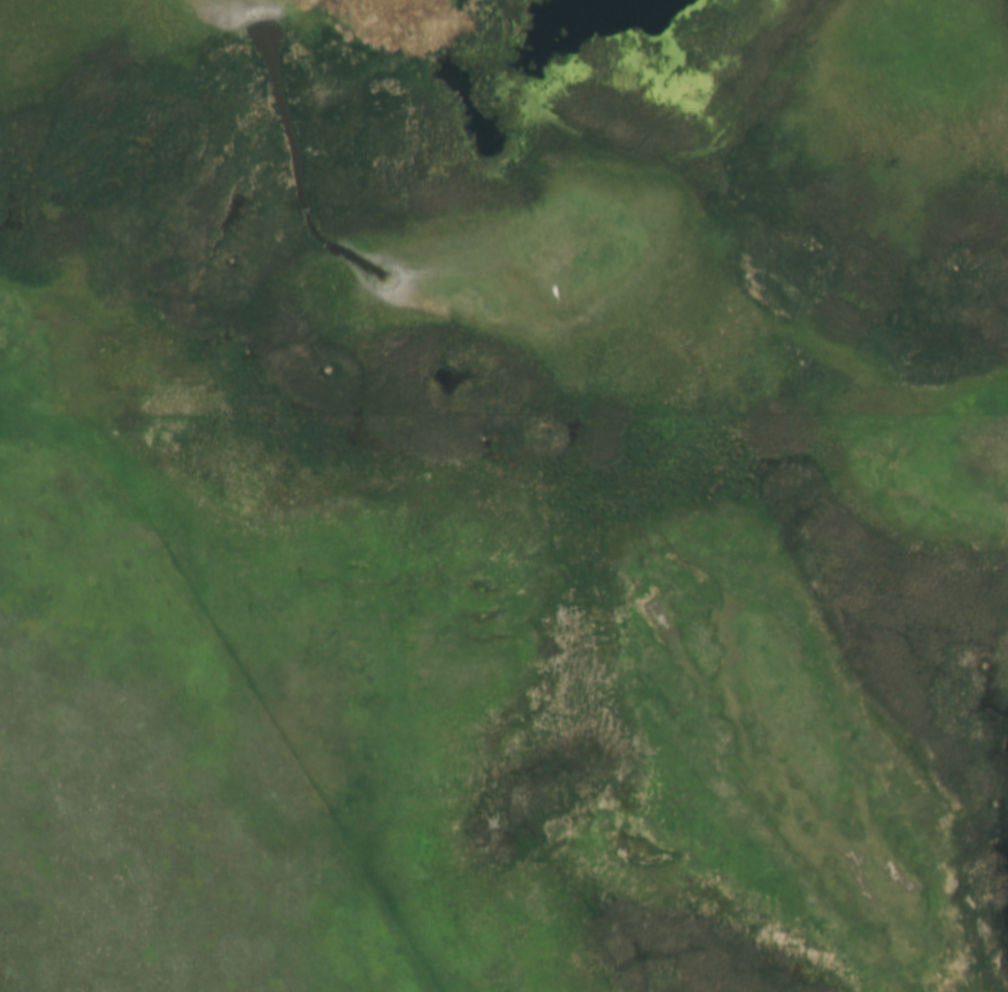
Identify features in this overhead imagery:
road: (8, 409)

